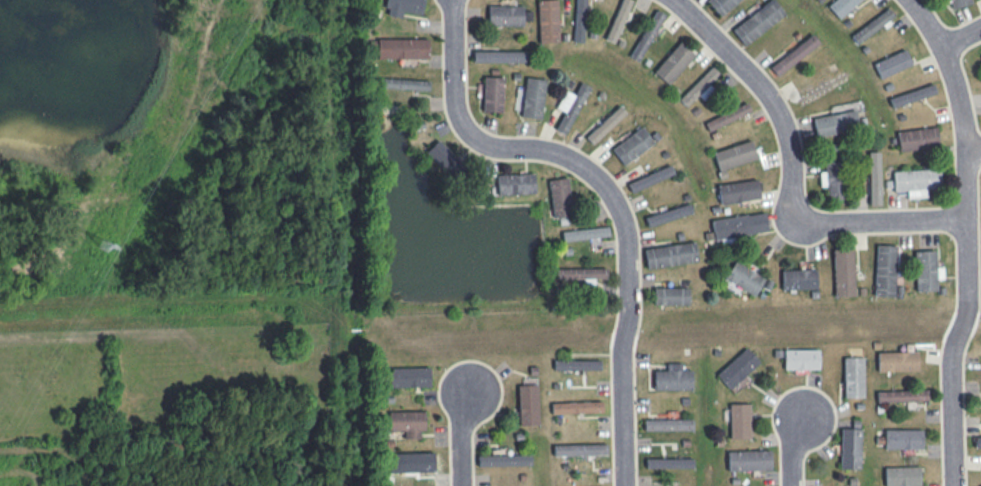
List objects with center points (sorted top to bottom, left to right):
building: (959, 3)
building: (721, 5)
building: (841, 6)
building: (403, 7)
building: (505, 15)
building: (579, 20)
building: (617, 20)
building: (547, 21)
building: (758, 21)
building: (872, 25)
building: (647, 35)
road: (962, 39)
building: (402, 48)
building: (794, 54)
building: (498, 56)
building: (673, 62)
building: (892, 63)
building: (405, 83)
building: (699, 86)
building: (492, 94)
building: (912, 95)
building: (532, 97)
building: (570, 106)
building: (727, 116)
building: (835, 123)
building: (605, 124)
building: (917, 138)
building: (632, 145)
building: (734, 154)
road: (975, 156)
building: (443, 157)
road: (792, 173)
building: (650, 178)
building: (874, 178)
building: (830, 180)
building: (915, 181)
building: (515, 183)
building: (738, 191)
road: (607, 193)
building: (559, 196)
building: (668, 214)
building: (739, 225)
building: (585, 233)
road: (969, 236)
power tower: (105, 253)
building: (670, 254)
building: (884, 270)
building: (926, 270)
building: (843, 272)
building: (582, 274)
building: (743, 277)
building: (798, 279)
building: (670, 296)
building: (801, 359)
building: (897, 361)
building: (576, 364)
building: (737, 367)
building: (408, 377)
building: (672, 377)
building: (853, 377)
building: (902, 395)
building: (527, 404)
building: (576, 407)
building: (739, 420)
building: (406, 422)
building: (668, 424)
building: (903, 438)
road: (459, 439)
building: (977, 441)
building: (850, 448)
building: (579, 449)
road: (790, 452)
building: (504, 459)
building: (748, 460)
building: (410, 462)
building: (669, 463)
building: (902, 476)

